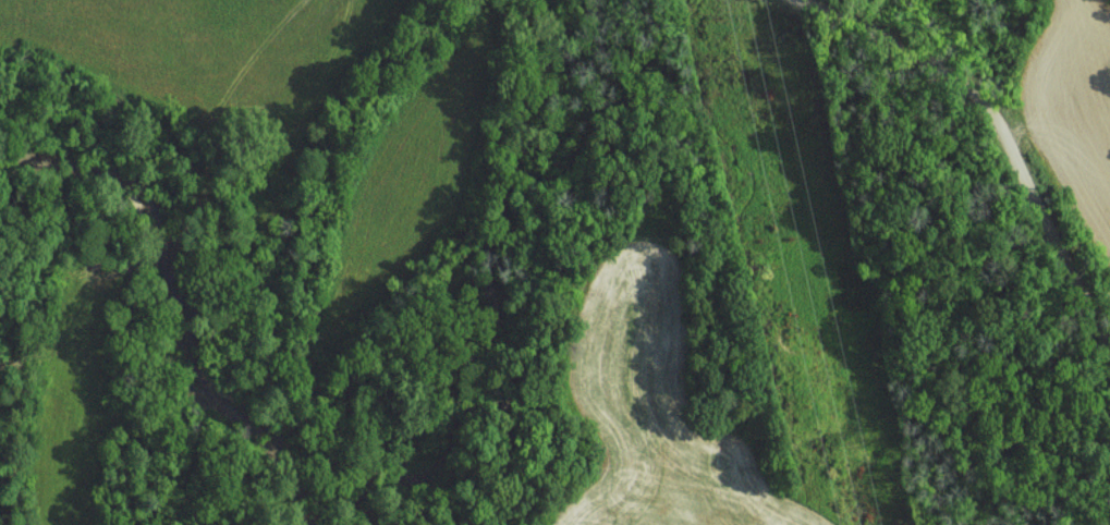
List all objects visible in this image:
road: (1000, 130)

